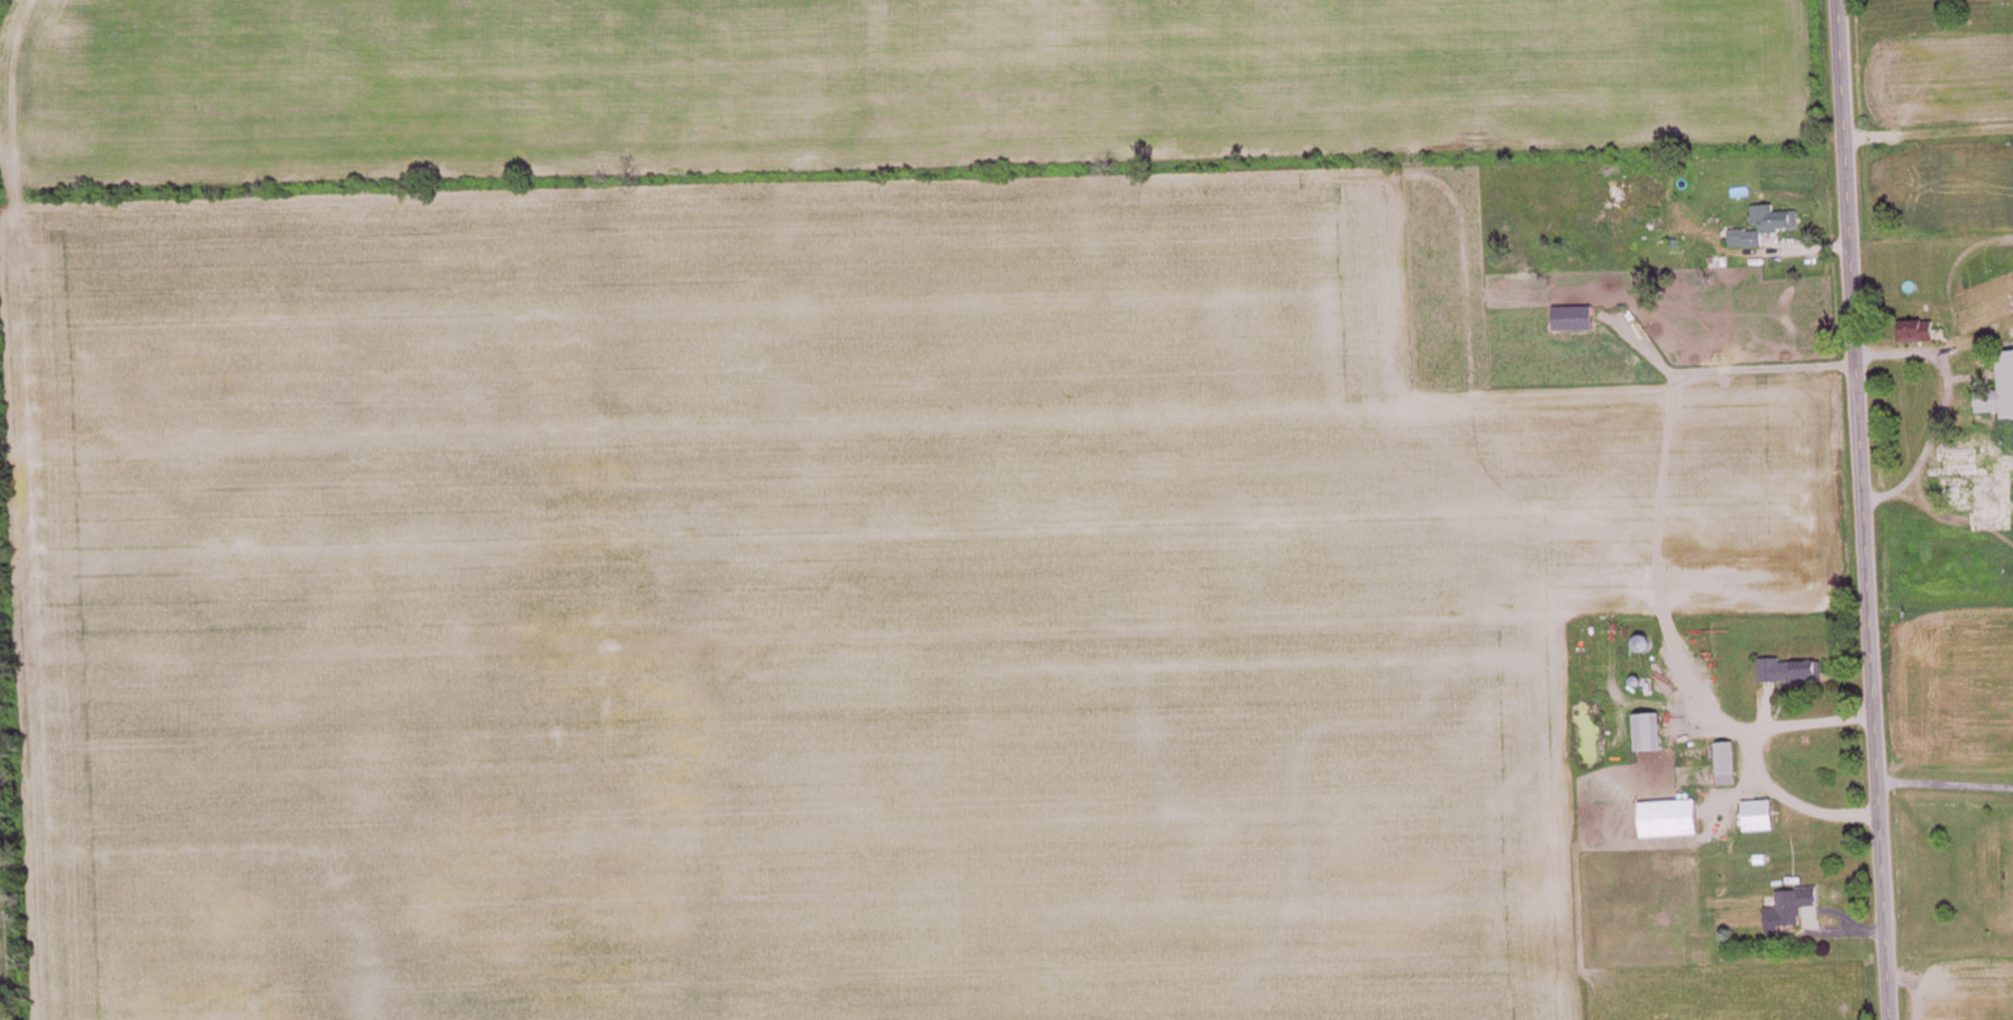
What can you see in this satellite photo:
building: (1651, 203)
building: (1762, 228)
building: (1624, 273)
building: (1574, 321)
building: (1919, 332)
building: (2006, 372)
building: (1963, 481)
road: (1856, 509)
building: (1647, 646)
building: (1790, 673)
building: (1651, 734)
building: (1727, 766)
road: (1941, 784)
building: (1761, 818)
building: (1671, 821)
building: (1791, 910)

